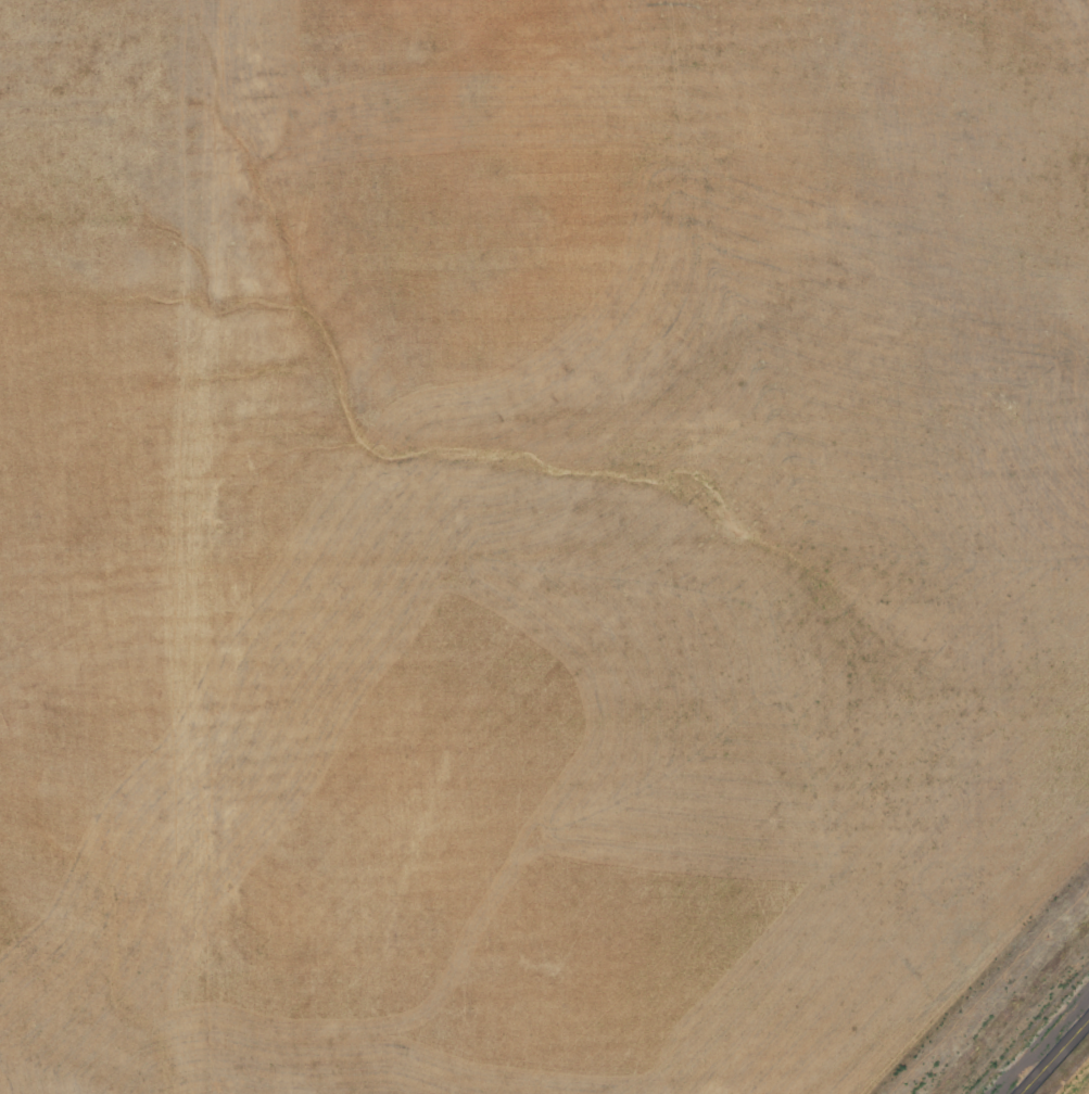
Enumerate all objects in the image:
railway: (1008, 1006)
road: (1056, 1059)

